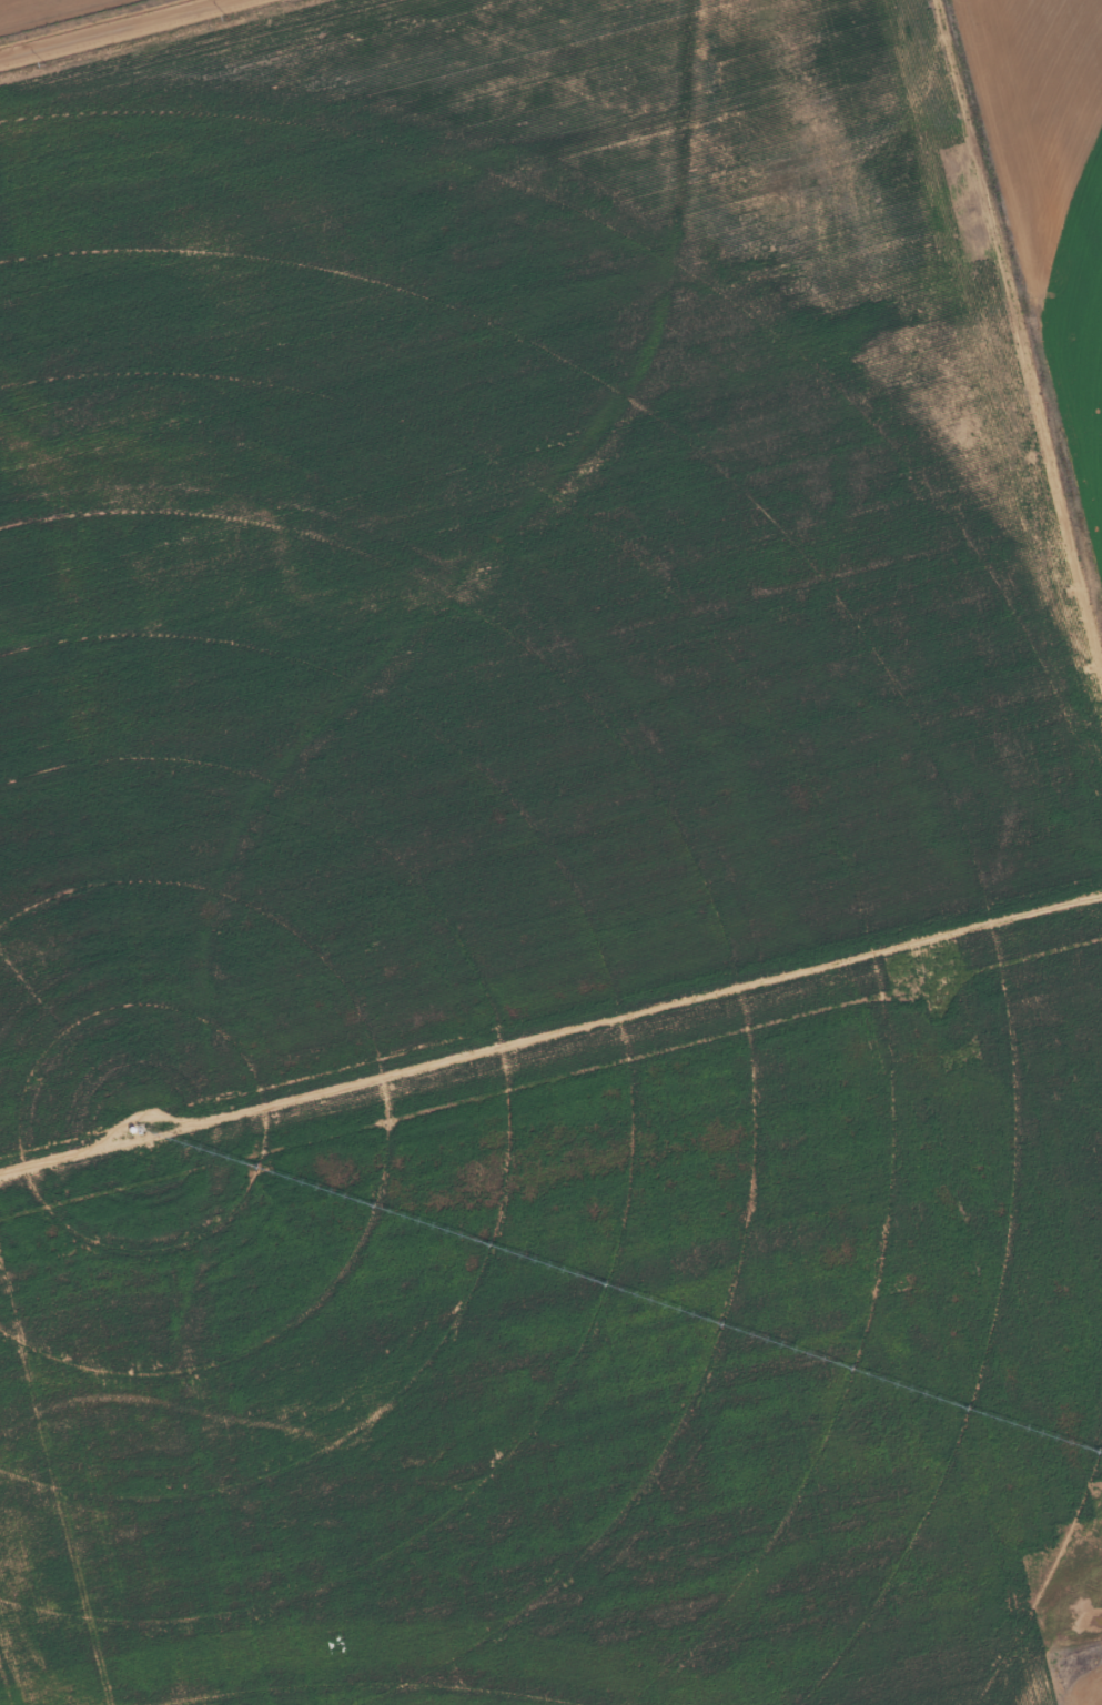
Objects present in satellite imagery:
road: (110, 28)
road: (1018, 343)
road: (550, 1030)

